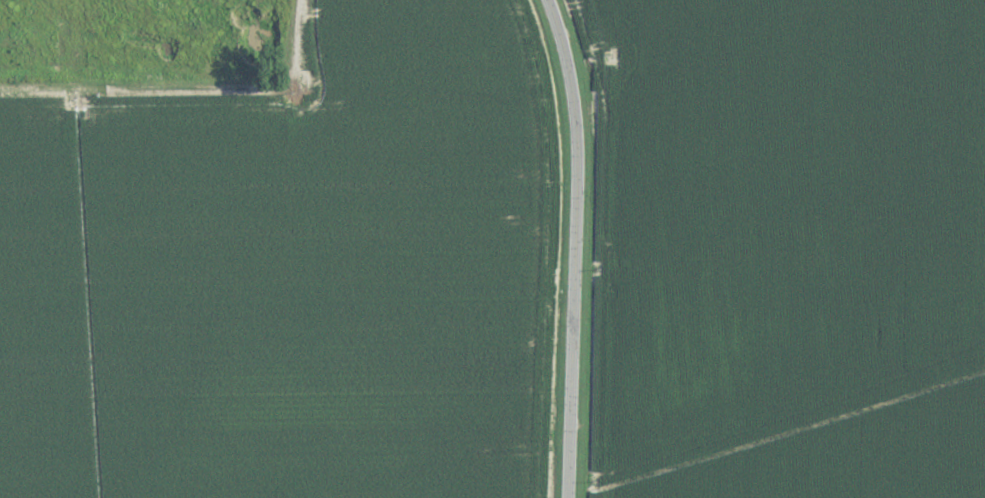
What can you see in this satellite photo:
road: (574, 247)

